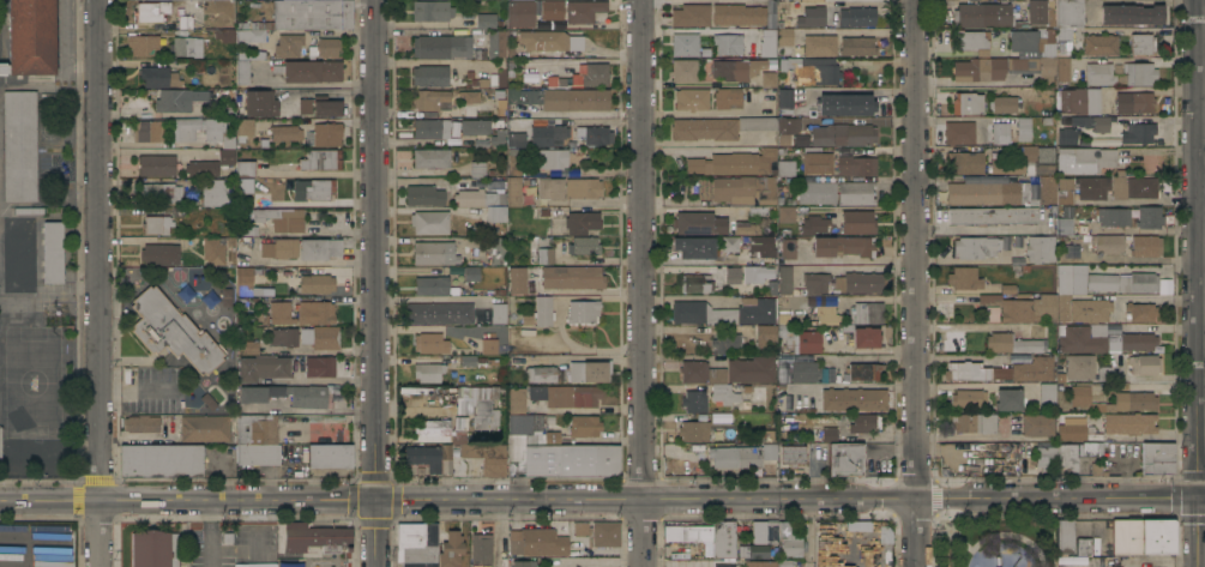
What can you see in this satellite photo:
road: (706, 0)
building: (771, 7)
building: (549, 8)
building: (432, 10)
building: (584, 10)
building: (151, 12)
building: (1041, 12)
building: (522, 13)
building: (737, 13)
building: (306, 14)
building: (691, 14)
building: (982, 14)
building: (1131, 14)
building: (814, 16)
building: (856, 16)
building: (486, 20)
building: (185, 22)
road: (127, 30)
road: (854, 30)
building: (1052, 32)
building: (223, 34)
building: (251, 35)
building: (784, 36)
building: (30, 37)
building: (549, 40)
building: (767, 42)
building: (496, 43)
building: (685, 43)
building: (728, 43)
building: (1141, 43)
building: (144, 44)
building: (288, 44)
building: (820, 44)
building: (1099, 44)
building: (186, 46)
building: (441, 46)
building: (857, 46)
building: (325, 47)
building: (257, 54)
building: (976, 58)
building: (1042, 66)
building: (736, 68)
building: (311, 70)
building: (685, 70)
building: (813, 70)
building: (242, 71)
building: (596, 73)
building: (1099, 73)
building: (1139, 73)
building: (430, 76)
building: (159, 77)
building: (769, 78)
building: (555, 79)
building: (228, 95)
building: (470, 96)
building: (728, 97)
building: (799, 97)
building: (180, 98)
building: (430, 98)
building: (567, 98)
building: (692, 98)
building: (1077, 99)
building: (785, 101)
building: (1134, 102)
building: (258, 103)
building: (845, 103)
building: (968, 103)
building: (1004, 104)
building: (305, 105)
building: (326, 105)
building: (500, 107)
building: (1093, 122)
building: (475, 126)
building: (718, 127)
building: (197, 128)
building: (432, 128)
building: (787, 128)
building: (1024, 128)
building: (245, 129)
building: (149, 131)
building: (285, 132)
building: (959, 132)
building: (547, 133)
building: (1001, 133)
building: (1138, 133)
building: (325, 134)
building: (595, 134)
building: (843, 134)
building: (1067, 135)
building: (496, 137)
building: (516, 139)
building: (228, 141)
building: (19, 146)
road: (697, 149)
road: (153, 151)
building: (227, 156)
building: (432, 157)
building: (553, 158)
building: (321, 159)
building: (1084, 159)
building: (516, 161)
building: (815, 161)
building: (734, 162)
building: (965, 162)
building: (1026, 162)
building: (855, 163)
building: (157, 164)
building: (784, 167)
building: (201, 168)
building: (245, 168)
building: (477, 168)
building: (582, 185)
building: (496, 186)
building: (1092, 187)
building: (1133, 187)
building: (319, 188)
building: (550, 188)
building: (1047, 188)
building: (739, 189)
building: (513, 191)
building: (1065, 191)
building: (158, 192)
building: (216, 192)
building: (817, 192)
building: (855, 192)
building: (990, 193)
building: (424, 194)
building: (245, 199)
road: (1201, 199)
building: (484, 203)
building: (787, 213)
building: (992, 215)
building: (1114, 216)
building: (1150, 217)
building: (276, 218)
building: (701, 221)
building: (429, 222)
building: (582, 222)
building: (857, 222)
building: (157, 224)
building: (813, 224)
building: (1071, 225)
building: (747, 227)
building: (245, 228)
road: (977, 229)
building: (242, 242)
building: (1108, 243)
building: (584, 245)
building: (1146, 245)
building: (694, 246)
building: (842, 246)
building: (975, 246)
building: (285, 247)
road: (917, 247)
building: (319, 248)
building: (730, 248)
building: (788, 248)
building: (1040, 248)
road: (1198, 248)
building: (20, 249)
road: (100, 249)
road: (376, 249)
building: (498, 249)
building: (760, 249)
building: (213, 251)
building: (1072, 251)
building: (53, 252)
building: (434, 252)
building: (158, 254)
building: (546, 255)
building: (472, 273)
building: (757, 273)
building: (733, 275)
building: (572, 277)
building: (964, 277)
building: (784, 278)
building: (1070, 278)
building: (518, 279)
building: (242, 282)
building: (695, 282)
building: (857, 282)
building: (1102, 282)
building: (1139, 282)
building: (315, 283)
road: (644, 283)
building: (815, 283)
building: (432, 285)
building: (771, 286)
building: (261, 291)
building: (1030, 307)
building: (1090, 309)
building: (543, 310)
building: (583, 310)
building: (1141, 310)
building: (281, 312)
building: (315, 312)
building: (498, 312)
building: (724, 312)
building: (439, 313)
building: (990, 313)
building: (826, 314)
building: (864, 314)
building: (525, 319)
building: (1036, 330)
building: (173, 331)
building: (765, 334)
building: (284, 336)
building: (797, 336)
building: (324, 337)
building: (866, 337)
building: (1082, 338)
building: (1138, 340)
building: (727, 342)
building: (1012, 342)
building: (430, 343)
building: (1110, 343)
building: (489, 345)
building: (248, 346)
building: (466, 360)
building: (481, 361)
building: (492, 362)
building: (1144, 363)
building: (319, 366)
building: (1079, 366)
building: (263, 367)
building: (752, 368)
building: (590, 370)
building: (805, 370)
building: (863, 370)
building: (1001, 370)
building: (428, 372)
building: (1104, 373)
building: (544, 374)
building: (782, 375)
road: (329, 378)
building: (709, 379)
building: (535, 392)
building: (253, 393)
building: (307, 396)
building: (572, 396)
building: (1047, 396)
building: (1080, 396)
building: (854, 398)
building: (969, 398)
building: (1008, 399)
building: (694, 400)
building: (1134, 400)
building: (788, 402)
building: (478, 405)
building: (817, 405)
building: (520, 420)
building: (862, 422)
building: (974, 422)
building: (141, 423)
building: (1129, 423)
building: (1038, 424)
building: (584, 426)
building: (259, 427)
building: (204, 428)
building: (1072, 429)
building: (693, 430)
building: (829, 434)
building: (766, 435)
road: (966, 435)
building: (552, 438)
building: (0, 442)
building: (460, 445)
building: (1089, 448)
building: (35, 453)
building: (257, 453)
building: (793, 453)
building: (330, 456)
building: (741, 456)
building: (1067, 456)
building: (423, 457)
building: (845, 458)
building: (1043, 458)
building: (1157, 458)
building: (566, 459)
building: (161, 460)
road: (1059, 495)
road: (1201, 496)
road: (647, 497)
road: (237, 500)
road: (49, 501)
building: (858, 525)
building: (580, 530)
road: (918, 531)
road: (1199, 531)
road: (100, 533)
road: (209, 533)
road: (378, 533)
building: (604, 533)
building: (13, 535)
building: (1143, 535)
building: (314, 536)
building: (706, 536)
building: (789, 539)
building: (1071, 539)
building: (757, 541)
building: (537, 542)
building: (417, 544)
building: (827, 547)
building: (153, 548)
building: (65, 549)
building: (451, 549)
building: (480, 550)
building: (1096, 561)
road: (670, 562)
building: (743, 562)
building: (249, 563)
building: (523, 563)
building: (784, 563)
building: (288, 565)

